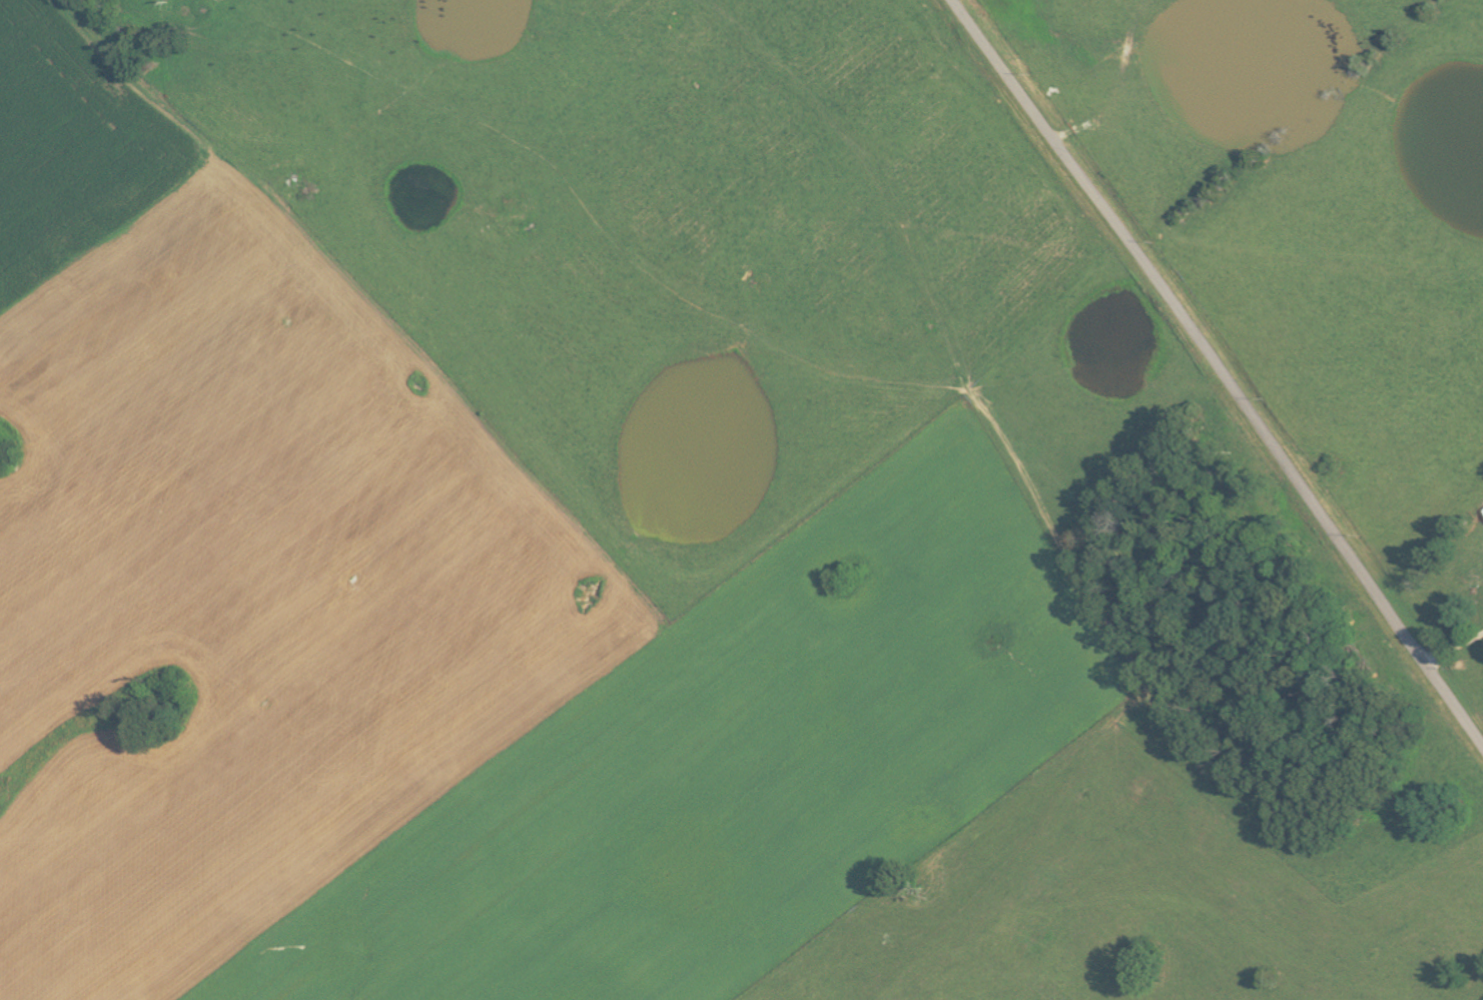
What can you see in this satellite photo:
road: (1219, 370)
road: (1453, 645)

